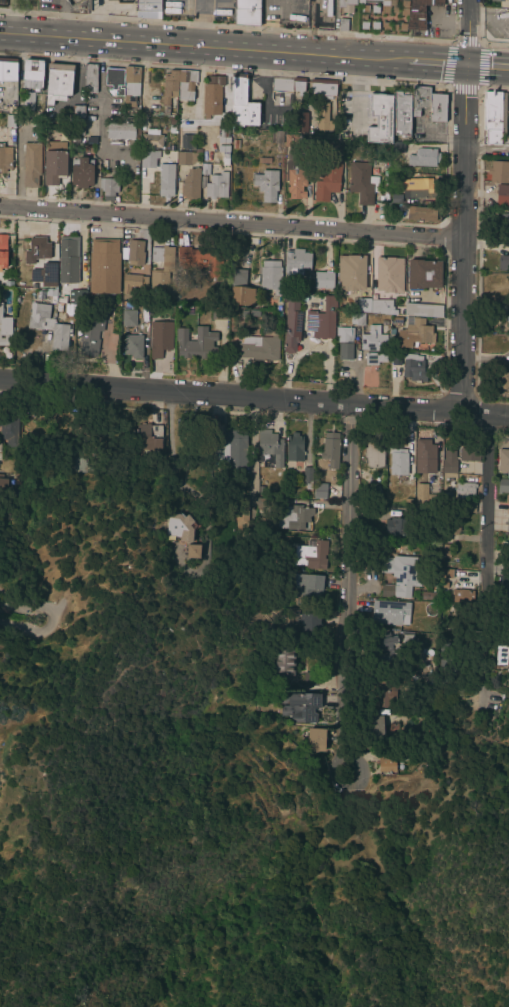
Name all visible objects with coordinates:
building: (497, 0)
building: (384, 3)
building: (148, 5)
building: (345, 6)
building: (247, 13)
building: (419, 13)
road: (446, 17)
road: (476, 20)
road: (495, 21)
parking lot: (439, 22)
parking lot: (495, 22)
building: (343, 25)
road: (468, 40)
road: (200, 45)
road: (78, 52)
road: (432, 62)
road: (447, 63)
traffic signals: (465, 64)
road: (486, 66)
road: (482, 68)
building: (8, 70)
building: (32, 74)
road: (359, 74)
building: (90, 78)
building: (114, 80)
building: (58, 82)
building: (186, 85)
building: (281, 85)
building: (298, 85)
building: (131, 86)
building: (169, 86)
building: (322, 88)
road: (461, 89)
road: (264, 90)
road: (74, 93)
building: (212, 96)
building: (28, 102)
road: (100, 102)
building: (242, 103)
parking lot: (269, 104)
building: (429, 104)
road: (357, 113)
building: (401, 114)
parking lot: (351, 115)
building: (491, 117)
building: (323, 118)
building: (379, 119)
parking lot: (506, 119)
building: (77, 120)
building: (10, 121)
building: (172, 122)
building: (301, 122)
building: (122, 131)
parking lot: (427, 131)
building: (278, 137)
road: (425, 137)
building: (151, 139)
road: (453, 139)
building: (188, 143)
building: (224, 143)
building: (235, 144)
building: (337, 148)
road: (486, 150)
building: (186, 158)
building: (423, 158)
building: (4, 159)
building: (148, 159)
building: (209, 159)
building: (31, 164)
building: (54, 167)
building: (294, 167)
building: (205, 170)
building: (81, 172)
building: (498, 172)
building: (165, 180)
building: (327, 181)
building: (362, 183)
building: (191, 184)
building: (386, 184)
building: (266, 185)
building: (217, 186)
building: (108, 189)
building: (417, 189)
building: (502, 195)
building: (396, 198)
road: (463, 205)
building: (421, 214)
road: (232, 224)
building: (503, 225)
building: (3, 250)
building: (135, 253)
building: (200, 259)
building: (42, 260)
building: (68, 260)
building: (503, 260)
building: (296, 262)
building: (104, 266)
building: (508, 266)
building: (160, 269)
building: (390, 272)
building: (351, 273)
building: (423, 274)
building: (272, 278)
building: (323, 280)
building: (132, 282)
building: (8, 283)
building: (17, 285)
building: (50, 292)
building: (242, 296)
building: (79, 297)
building: (363, 305)
building: (382, 307)
building: (423, 310)
building: (219, 313)
building: (128, 317)
building: (357, 319)
building: (507, 319)
building: (232, 320)
building: (322, 320)
building: (292, 322)
building: (48, 326)
building: (4, 327)
building: (232, 328)
building: (344, 334)
building: (414, 334)
building: (90, 335)
building: (160, 338)
building: (195, 343)
building: (374, 345)
building: (133, 346)
building: (258, 348)
building: (345, 352)
building: (413, 368)
building: (502, 380)
road: (254, 396)
building: (44, 415)
building: (9, 429)
building: (149, 436)
building: (269, 447)
building: (294, 447)
building: (234, 448)
building: (330, 449)
building: (374, 451)
building: (424, 453)
building: (469, 453)
building: (503, 461)
building: (398, 462)
building: (448, 463)
building: (307, 477)
building: (3, 483)
building: (503, 486)
building: (465, 489)
building: (320, 491)
road: (491, 492)
building: (422, 496)
building: (446, 496)
building: (261, 504)
building: (508, 505)
building: (470, 507)
building: (243, 513)
building: (293, 517)
building: (456, 525)
building: (507, 525)
building: (179, 527)
building: (397, 527)
building: (505, 544)
building: (192, 551)
building: (446, 551)
building: (311, 555)
building: (445, 573)
building: (402, 574)
building: (504, 582)
building: (443, 585)
building: (307, 589)
building: (435, 589)
road: (347, 592)
building: (429, 596)
building: (461, 598)
road: (19, 600)
building: (389, 613)
building: (308, 625)
road: (38, 630)
building: (407, 640)
building: (388, 648)
building: (444, 651)
building: (501, 659)
building: (282, 664)
building: (310, 681)
building: (383, 695)
building: (299, 706)
building: (374, 727)
building: (315, 740)
building: (286, 745)
building: (386, 761)

